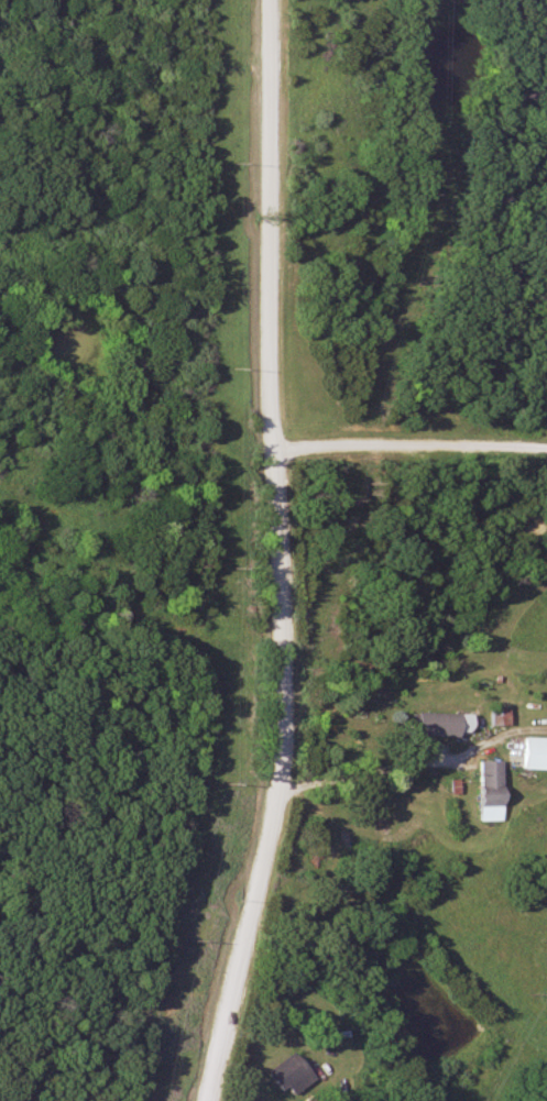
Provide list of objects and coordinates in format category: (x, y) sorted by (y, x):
road: (408, 444)
road: (273, 554)
park: (367, 604)
building: (493, 716)
building: (427, 724)
building: (530, 755)
building: (483, 790)
building: (286, 1076)

